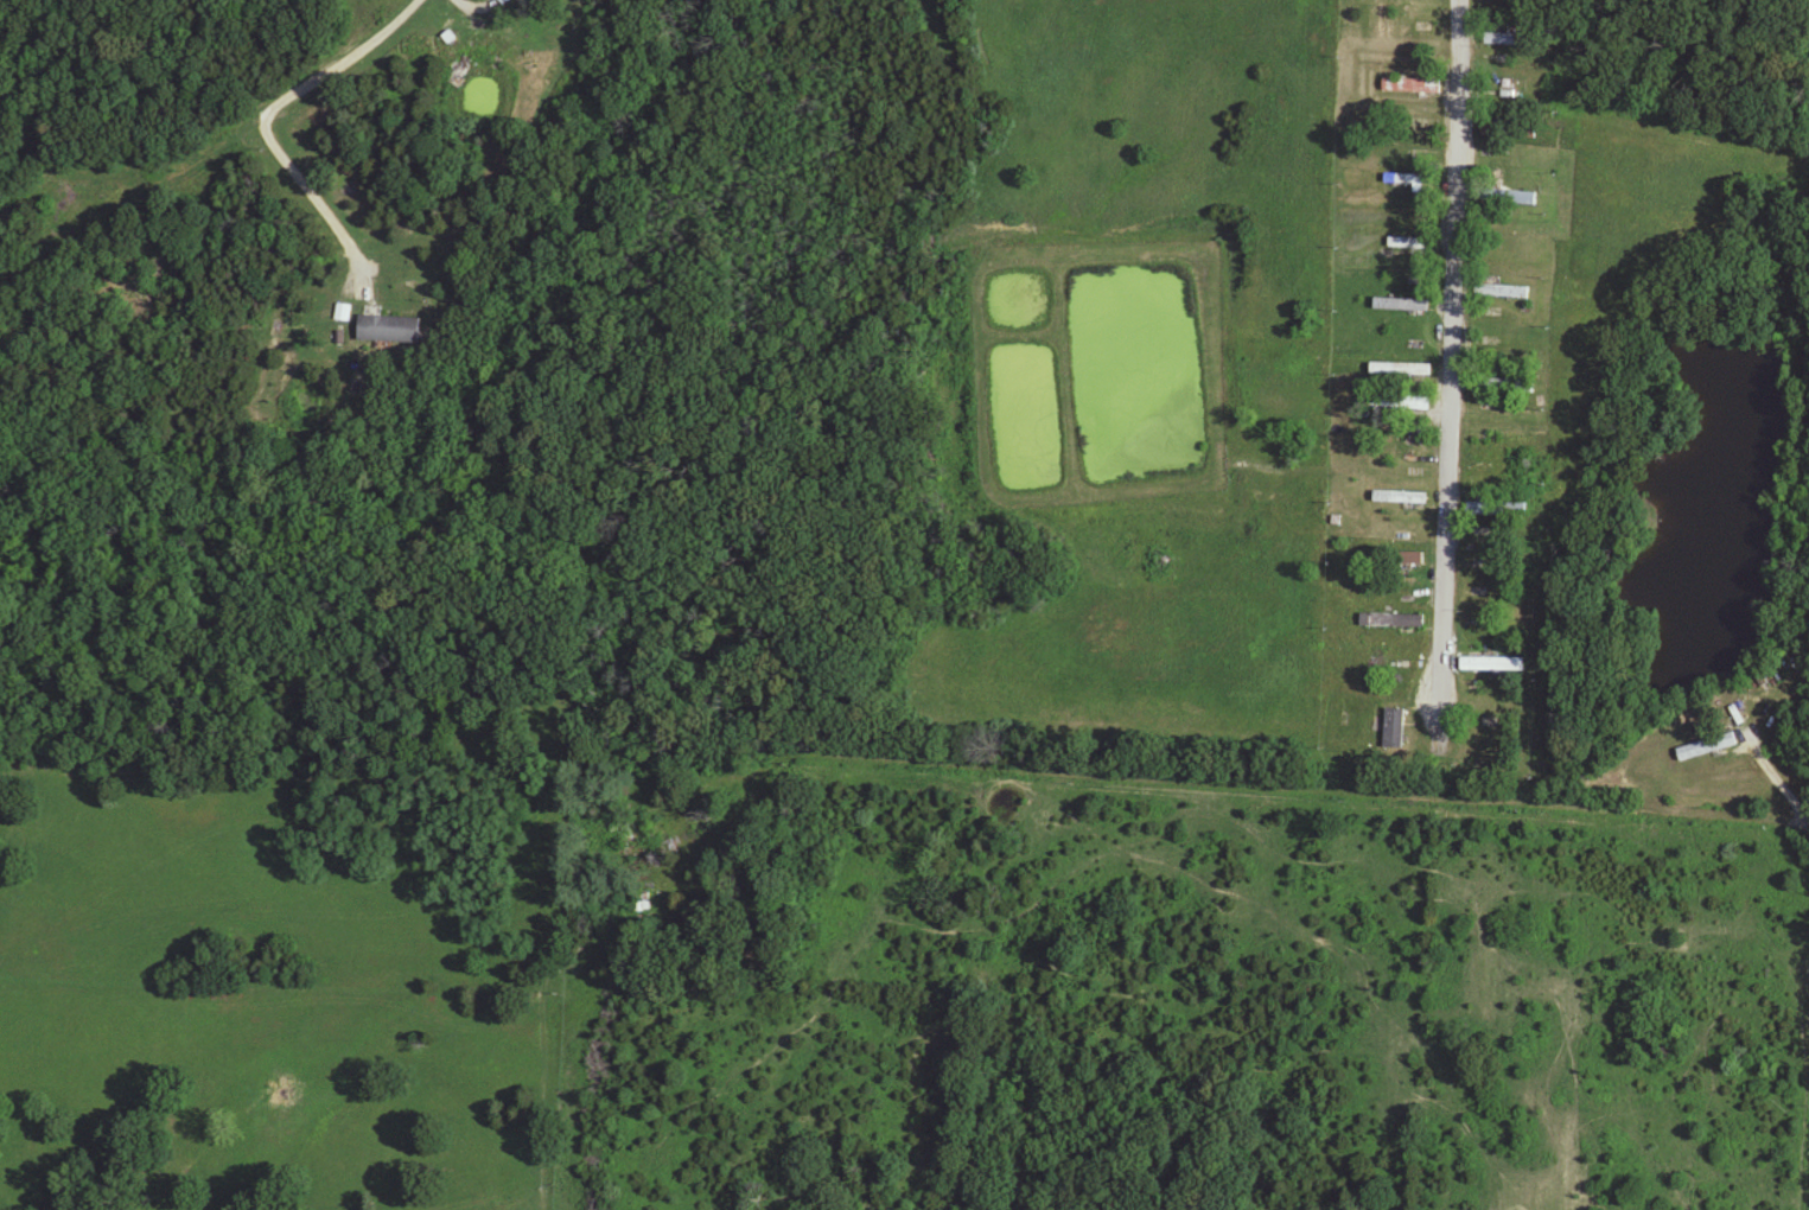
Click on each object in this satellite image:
building: (505, 1)
building: (1412, 87)
road: (260, 126)
building: (1399, 242)
building: (390, 330)
road: (1451, 357)
building: (1504, 386)
building: (1399, 559)
building: (1396, 623)
building: (1492, 665)
building: (1707, 749)
road: (1438, 760)
road: (1090, 779)
road: (1624, 814)
building: (648, 843)

